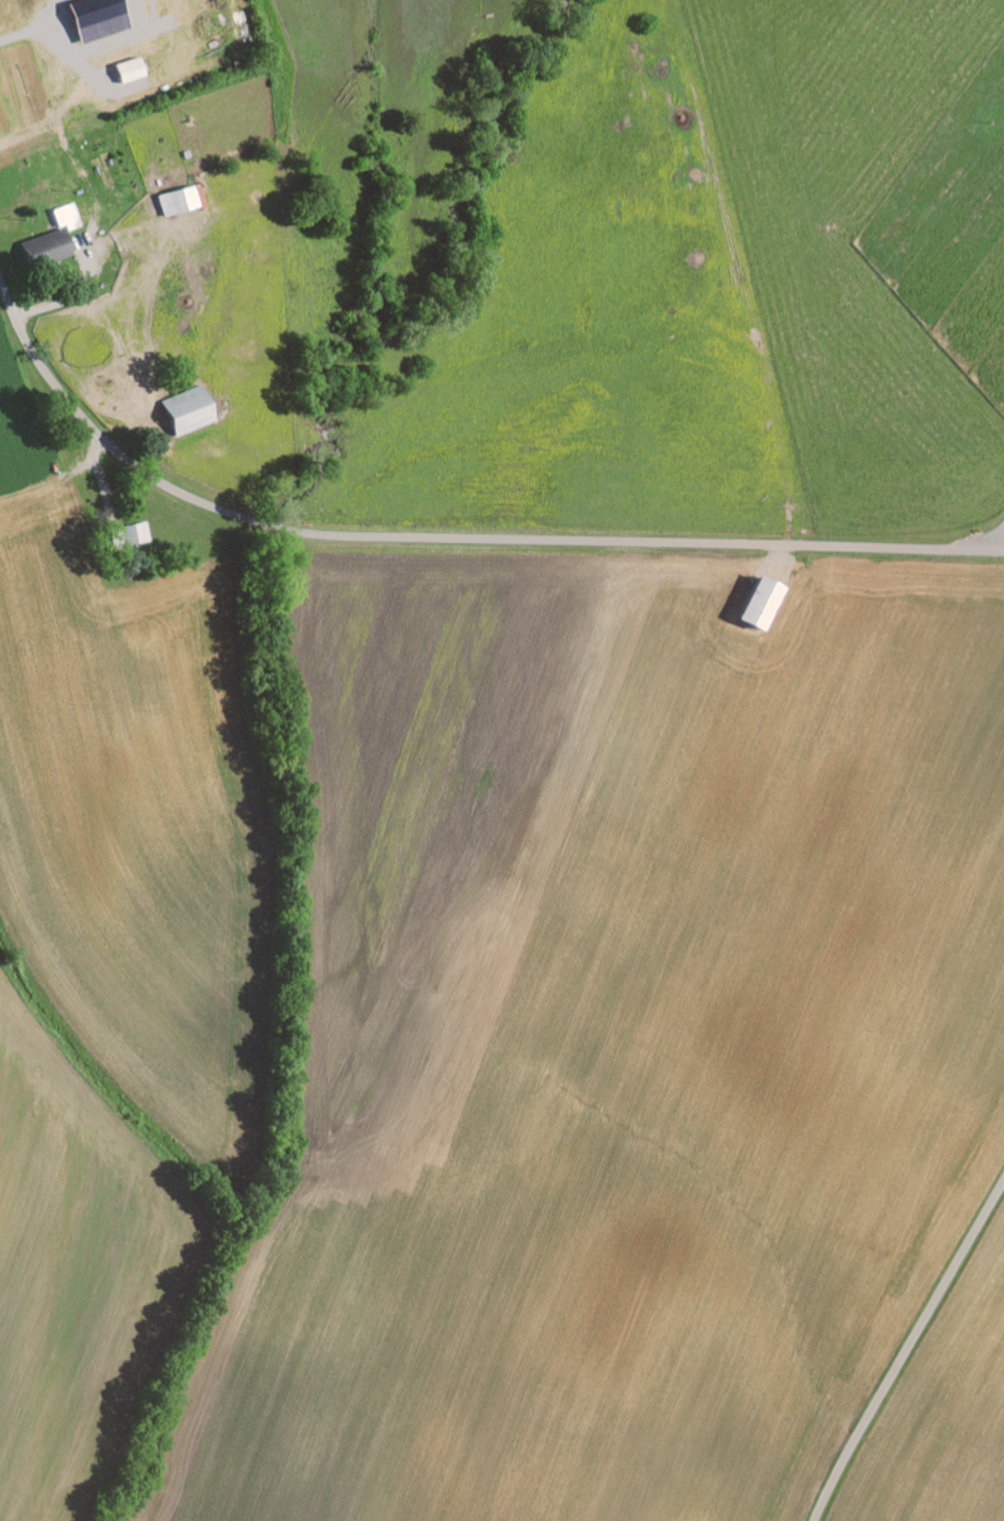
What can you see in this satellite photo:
building: (177, 199)
building: (65, 216)
building: (45, 246)
building: (185, 410)
building: (133, 532)
road: (445, 538)
road: (994, 539)
building: (759, 602)
road: (907, 1349)

